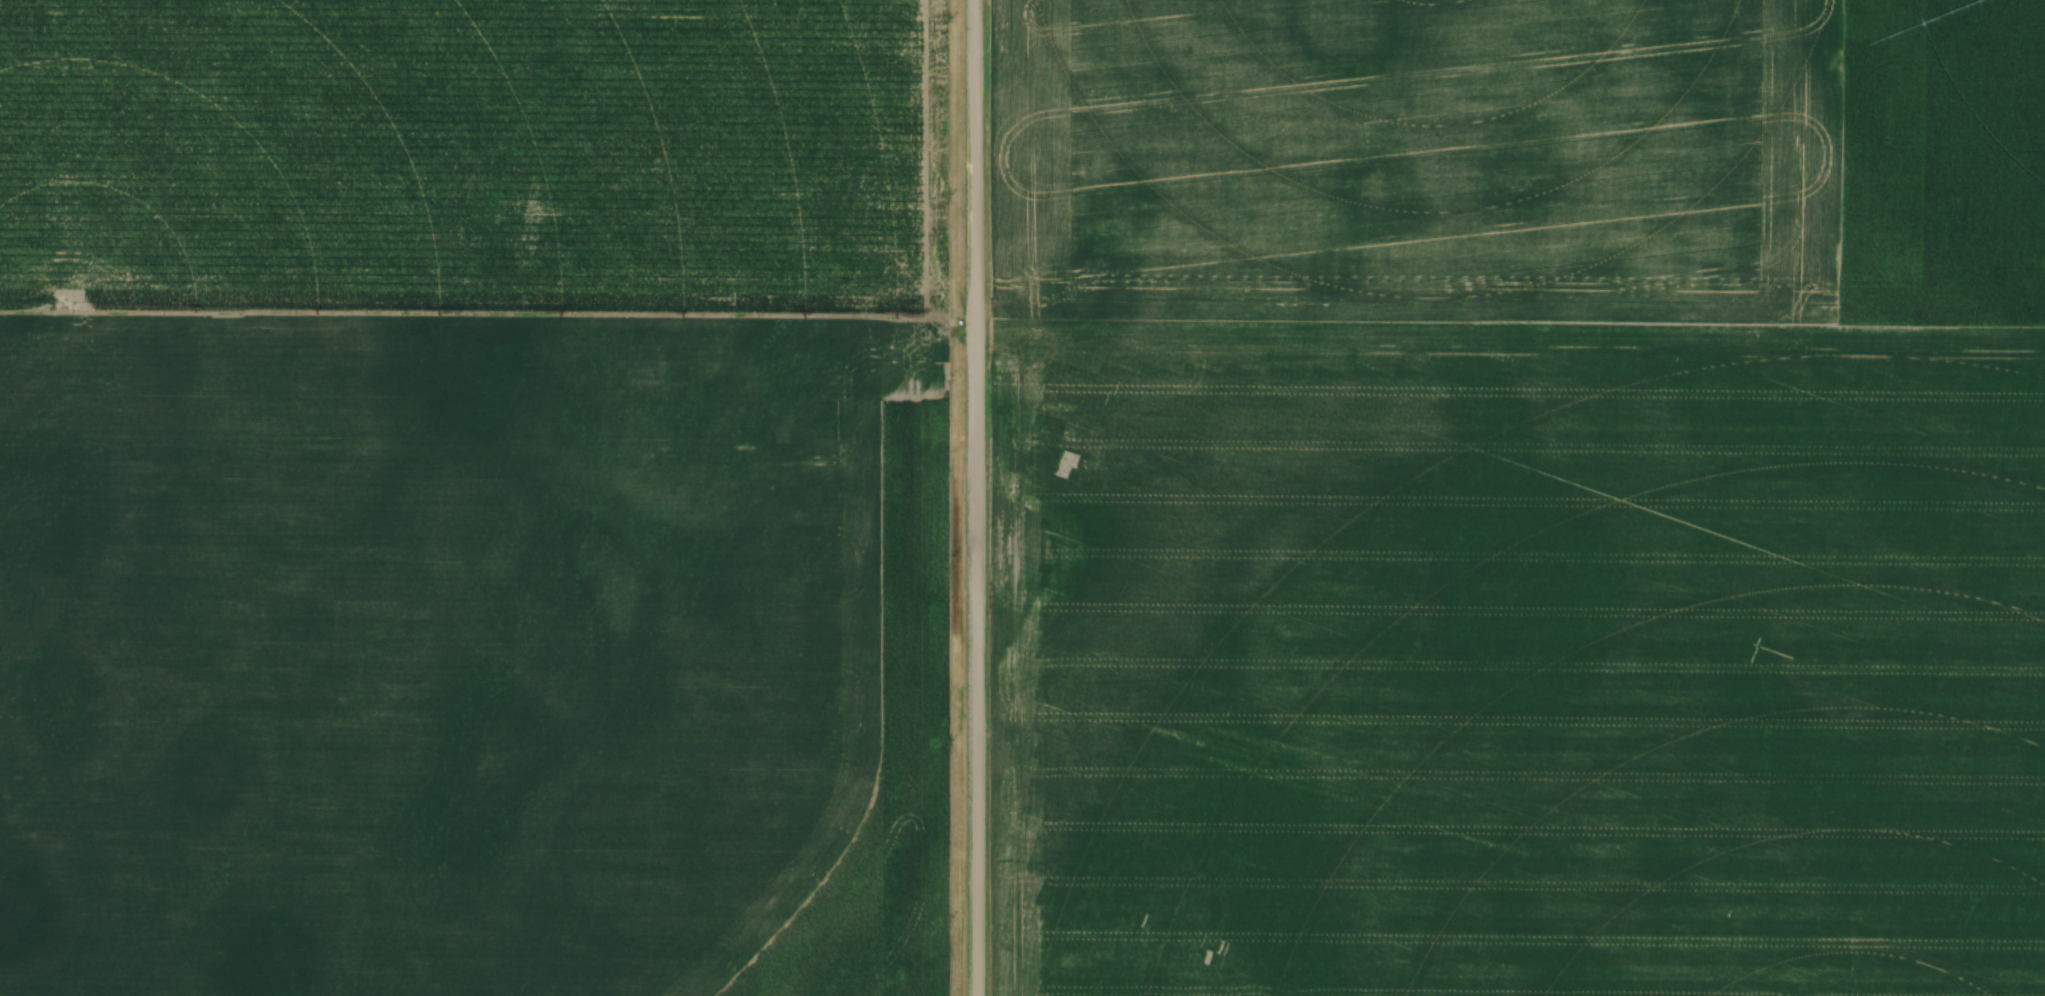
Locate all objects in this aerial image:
road: (973, 498)

